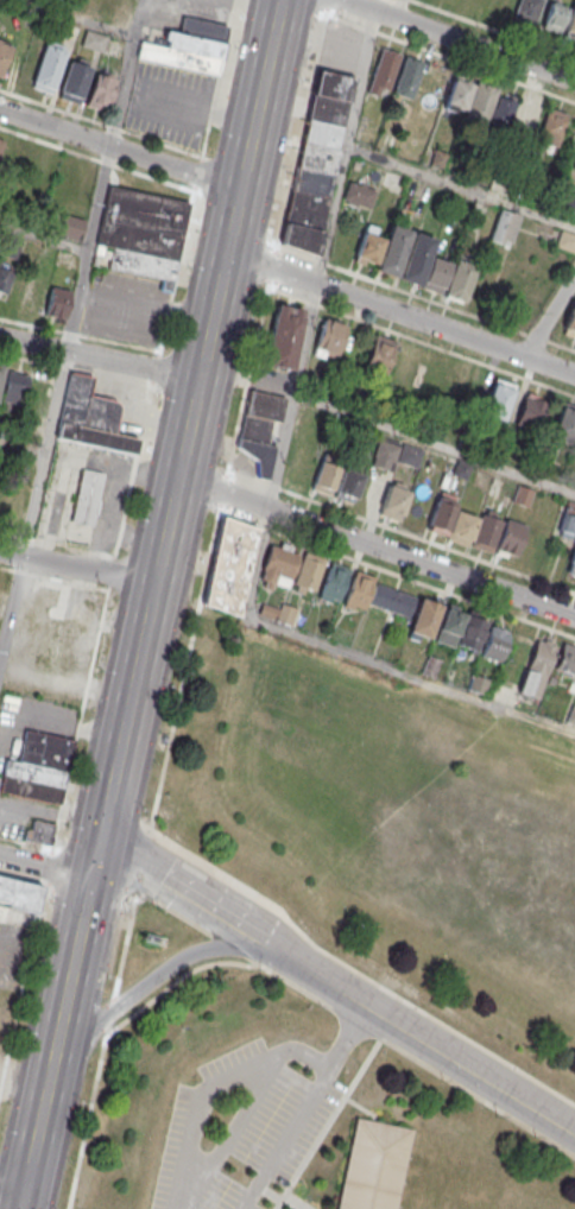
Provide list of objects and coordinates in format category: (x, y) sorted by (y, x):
building: (455, 1)
building: (58, 2)
road: (309, 7)
road: (393, 8)
building: (526, 11)
parking lot: (184, 12)
building: (121, 17)
building: (555, 17)
road: (75, 19)
building: (570, 24)
road: (494, 27)
road: (459, 40)
building: (93, 42)
building: (188, 45)
parking lot: (340, 48)
building: (4, 53)
road: (450, 57)
building: (48, 70)
road: (126, 72)
building: (383, 72)
building: (407, 76)
building: (74, 83)
building: (100, 93)
building: (457, 95)
parking lot: (169, 103)
building: (491, 107)
building: (529, 116)
building: (551, 129)
building: (1, 143)
road: (347, 147)
road: (119, 148)
road: (176, 148)
building: (17, 159)
building: (573, 160)
building: (316, 162)
road: (173, 184)
road: (461, 188)
building: (358, 195)
building: (565, 200)
building: (70, 227)
building: (505, 227)
building: (140, 233)
road: (43, 239)
building: (567, 241)
building: (368, 245)
building: (392, 249)
building: (416, 258)
building: (435, 274)
building: (5, 278)
building: (460, 281)
building: (33, 295)
road: (424, 298)
building: (57, 303)
parking lot: (124, 306)
road: (399, 311)
road: (550, 315)
building: (570, 321)
road: (402, 333)
road: (78, 334)
building: (283, 336)
building: (328, 337)
road: (67, 349)
building: (378, 354)
road: (100, 356)
building: (2, 373)
road: (93, 373)
building: (453, 381)
building: (15, 387)
building: (497, 400)
building: (531, 411)
building: (89, 418)
building: (310, 418)
road: (191, 419)
building: (564, 424)
road: (388, 425)
building: (259, 429)
road: (21, 450)
building: (393, 455)
building: (301, 470)
building: (322, 476)
building: (346, 486)
building: (86, 496)
building: (392, 502)
building: (450, 520)
building: (567, 521)
building: (499, 534)
road: (377, 545)
road: (77, 565)
building: (229, 565)
building: (570, 565)
building: (278, 568)
building: (308, 574)
building: (333, 582)
building: (356, 589)
road: (11, 604)
building: (277, 614)
building: (424, 618)
road: (247, 619)
building: (449, 627)
building: (470, 634)
building: (494, 644)
building: (567, 662)
building: (537, 669)
road: (64, 686)
building: (571, 716)
parking lot: (31, 721)
building: (37, 767)
parking lot: (23, 812)
building: (38, 831)
traffic signals: (100, 838)
road: (95, 857)
road: (45, 867)
traffic signals: (90, 878)
road: (200, 898)
building: (19, 900)
road: (26, 961)
road: (71, 967)
road: (163, 970)
road: (436, 1047)
road: (210, 1090)
road: (302, 1106)
parking lot: (247, 1122)
road: (34, 1133)
road: (232, 1133)
building: (373, 1165)
road: (6, 1203)

